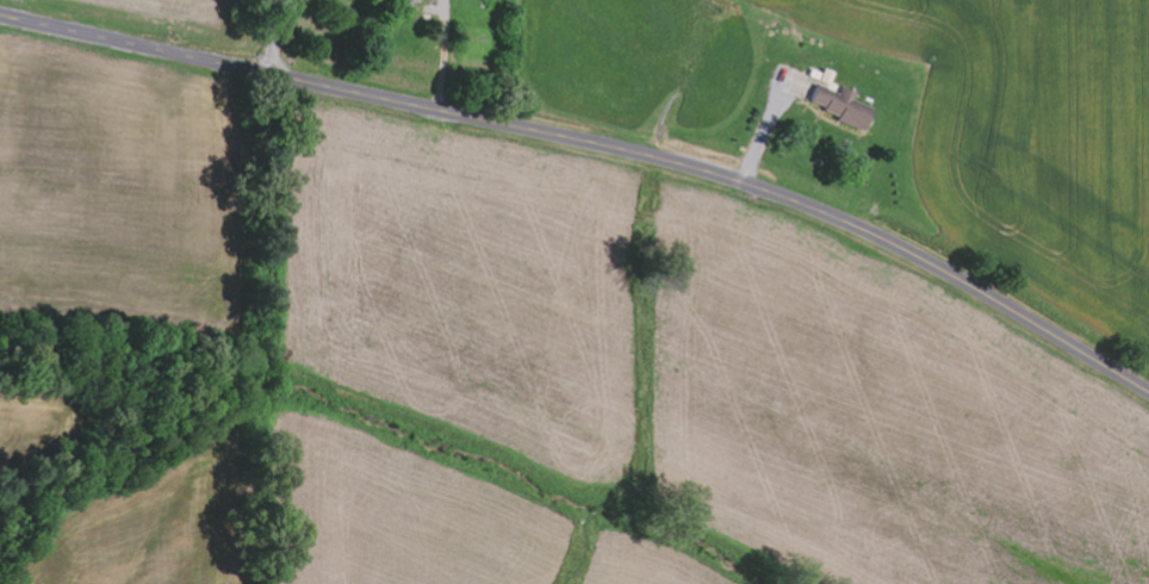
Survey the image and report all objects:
building: (399, 4)
road: (278, 37)
building: (836, 105)
road: (595, 142)

